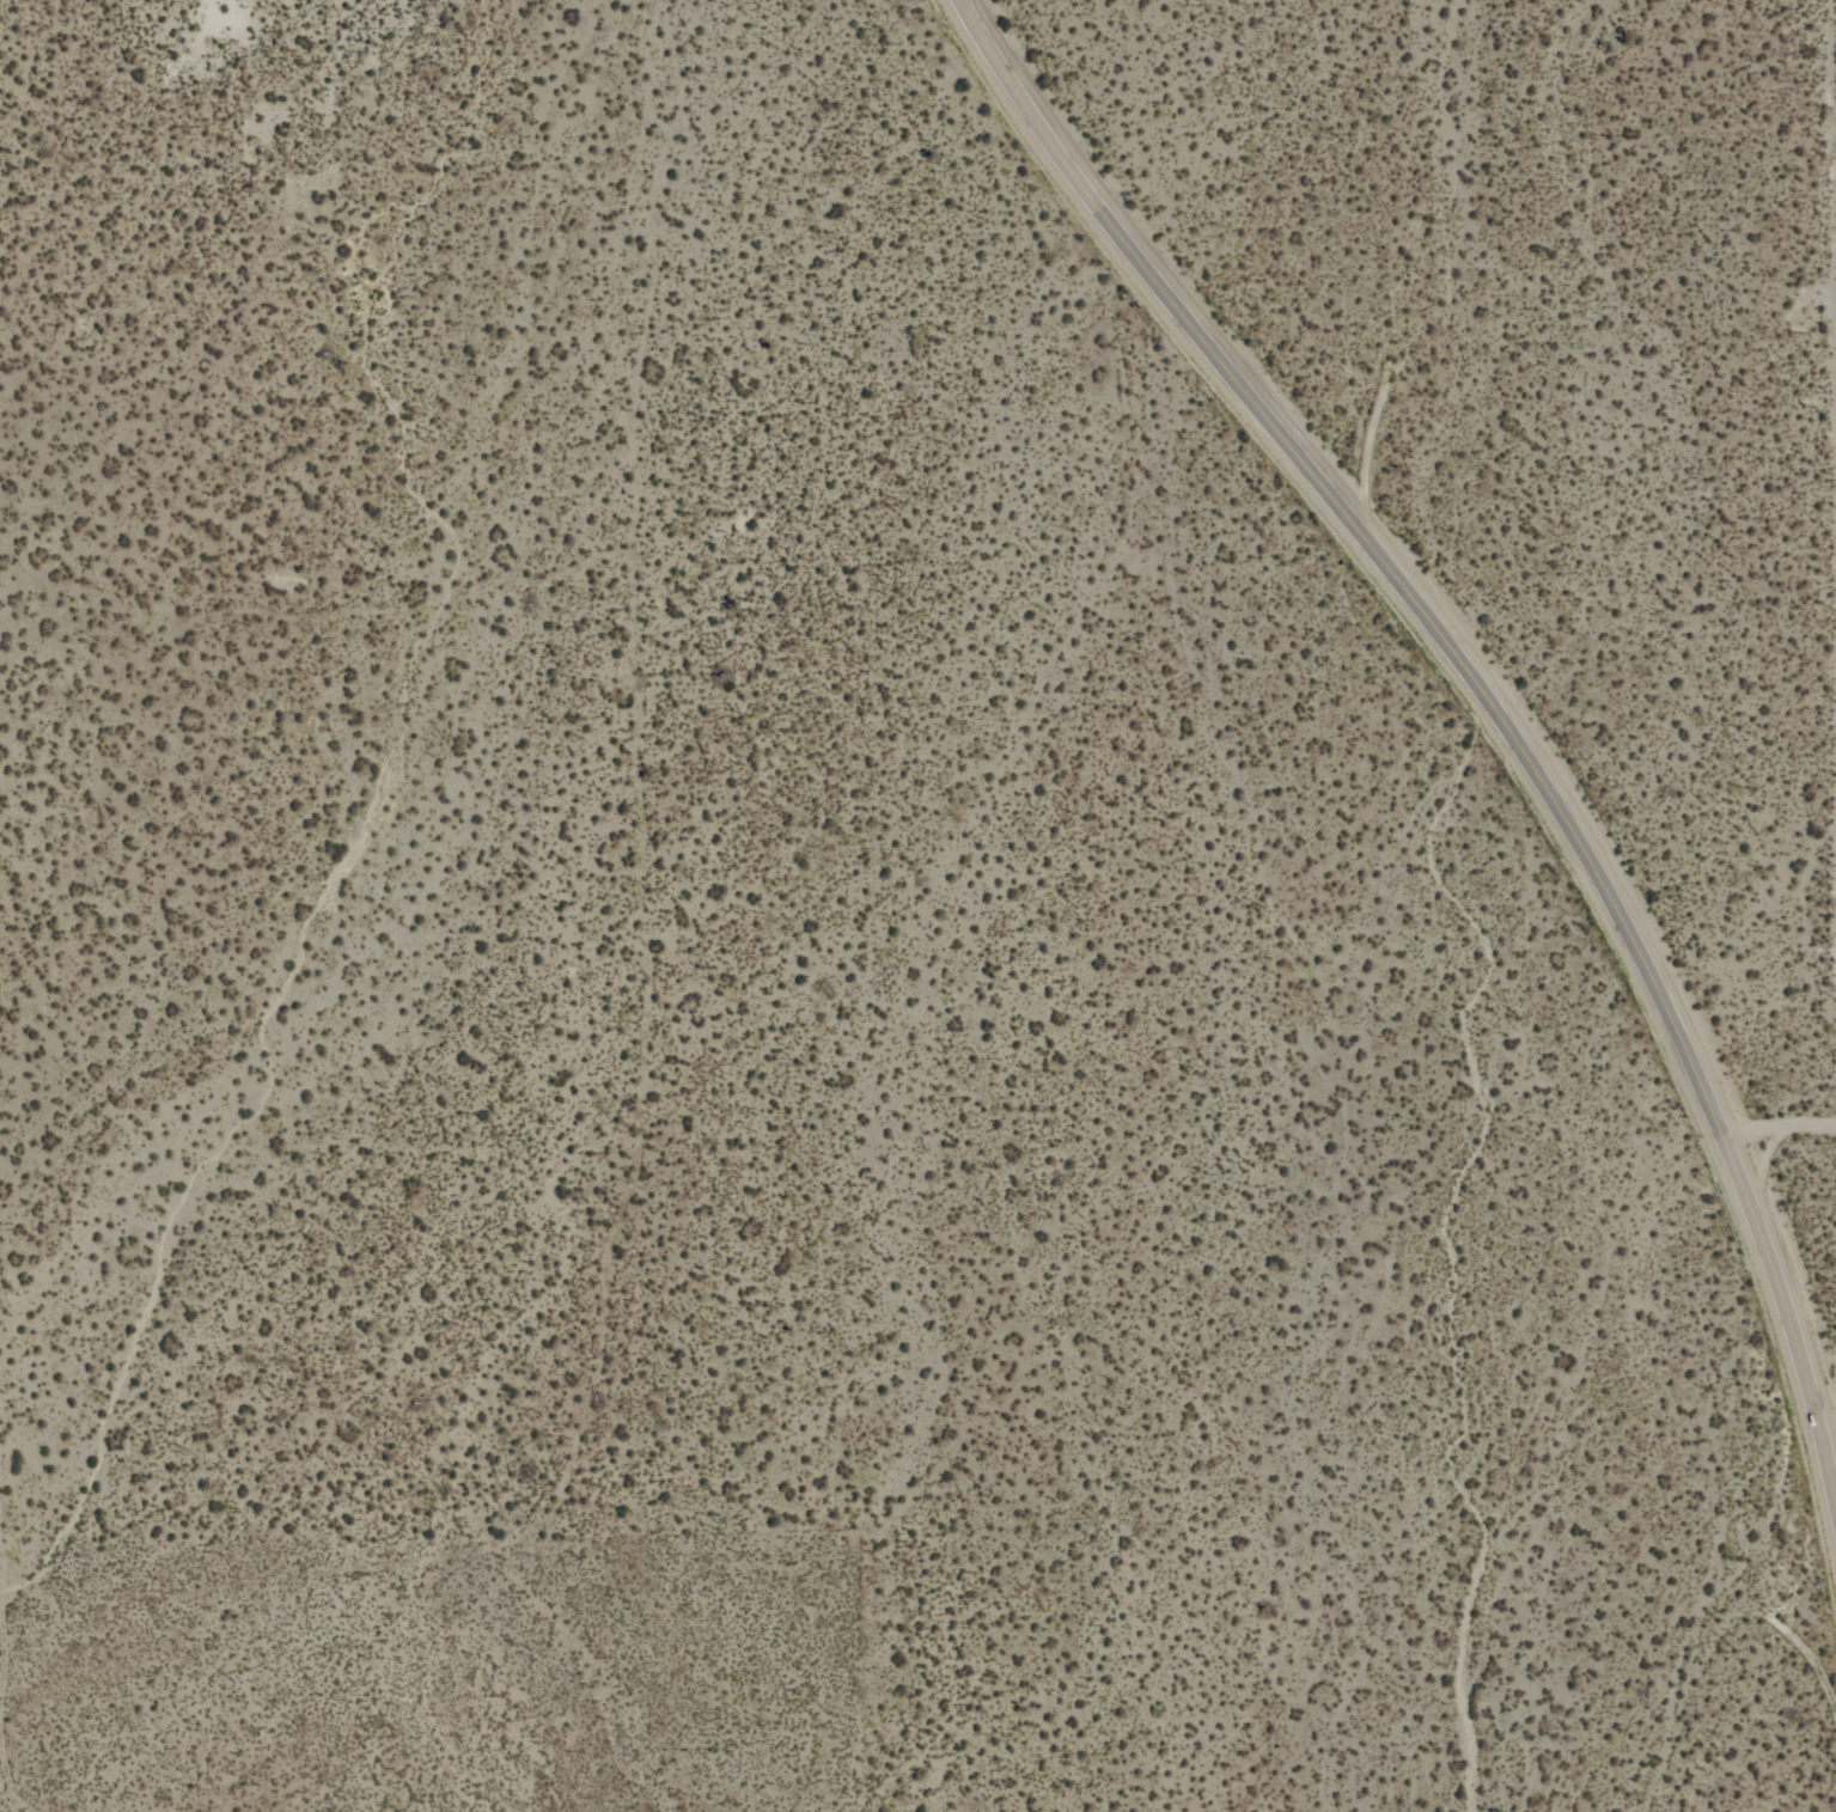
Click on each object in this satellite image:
road: (1476, 704)
road: (1782, 1147)

